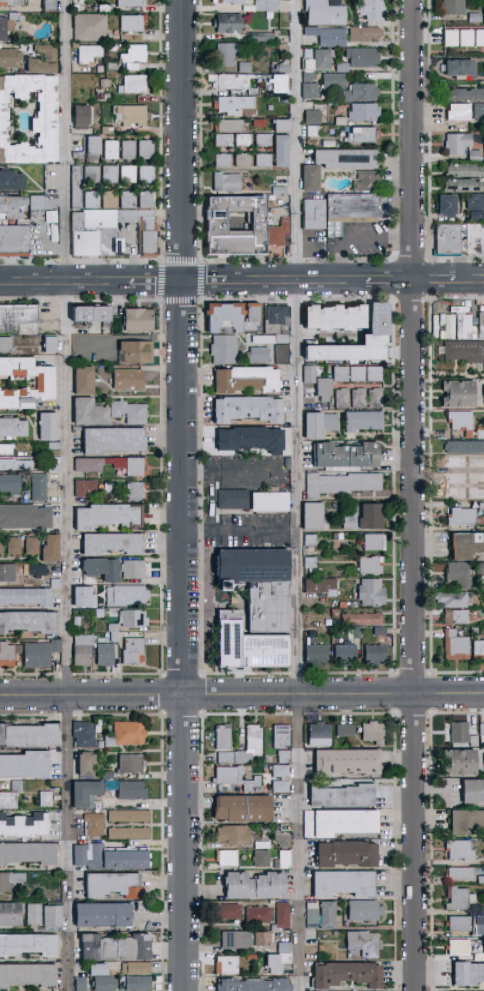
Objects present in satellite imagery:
building: (229, 1)
building: (12, 3)
building: (133, 3)
building: (265, 5)
building: (52, 6)
building: (451, 6)
building: (106, 9)
building: (371, 9)
building: (483, 11)
building: (322, 12)
building: (18, 17)
building: (224, 22)
building: (135, 24)
building: (92, 28)
building: (6, 29)
building: (362, 33)
building: (260, 36)
building: (330, 36)
building: (462, 36)
building: (113, 48)
building: (223, 53)
building: (136, 54)
building: (90, 55)
building: (361, 55)
building: (316, 58)
building: (11, 59)
building: (35, 61)
building: (456, 66)
building: (114, 67)
building: (136, 67)
building: (307, 76)
building: (228, 80)
building: (275, 82)
building: (107, 84)
building: (362, 85)
building: (135, 86)
building: (308, 89)
building: (464, 93)
building: (230, 103)
building: (362, 110)
building: (478, 110)
building: (457, 111)
building: (135, 116)
building: (310, 116)
building: (84, 119)
building: (228, 124)
building: (278, 124)
building: (46, 126)
building: (109, 131)
building: (361, 133)
building: (260, 138)
building: (220, 139)
building: (240, 139)
building: (456, 142)
building: (96, 147)
building: (278, 149)
building: (113, 151)
building: (130, 151)
building: (148, 151)
building: (473, 153)
building: (80, 156)
building: (343, 157)
building: (260, 158)
building: (220, 159)
building: (240, 159)
building: (461, 169)
building: (130, 175)
building: (94, 176)
building: (112, 176)
building: (149, 176)
building: (307, 176)
building: (364, 179)
building: (224, 181)
building: (12, 183)
building: (459, 184)
building: (79, 188)
building: (149, 200)
building: (112, 201)
building: (130, 201)
building: (94, 202)
building: (53, 203)
building: (39, 204)
building: (443, 204)
building: (475, 205)
building: (13, 207)
building: (356, 209)
building: (40, 216)
building: (314, 216)
building: (53, 218)
building: (2, 224)
building: (277, 232)
building: (56, 233)
building: (114, 234)
building: (238, 235)
road: (355, 239)
building: (16, 241)
parking lot: (357, 241)
building: (476, 243)
building: (450, 244)
parking lot: (314, 246)
road: (296, 281)
road: (389, 281)
road: (434, 281)
road: (470, 281)
road: (157, 282)
road: (205, 282)
road: (65, 283)
building: (457, 309)
building: (93, 314)
building: (336, 317)
building: (233, 318)
building: (480, 318)
building: (277, 319)
building: (19, 320)
building: (140, 320)
building: (433, 325)
building: (446, 325)
building: (462, 325)
building: (481, 326)
building: (380, 329)
building: (275, 339)
building: (46, 343)
building: (6, 345)
building: (52, 345)
road: (70, 348)
road: (295, 348)
building: (225, 350)
building: (137, 353)
building: (465, 353)
building: (283, 355)
building: (259, 356)
building: (342, 374)
building: (359, 374)
building: (376, 374)
building: (311, 375)
building: (130, 380)
building: (248, 380)
building: (86, 381)
building: (45, 384)
building: (326, 389)
building: (460, 394)
building: (483, 396)
building: (344, 399)
building: (368, 399)
building: (249, 409)
building: (131, 412)
building: (91, 413)
building: (365, 421)
building: (462, 424)
building: (321, 426)
building: (49, 427)
building: (13, 428)
building: (481, 435)
building: (115, 440)
building: (252, 440)
building: (55, 446)
building: (465, 448)
building: (7, 450)
building: (349, 456)
building: (477, 462)
building: (459, 463)
building: (16, 465)
building: (115, 465)
building: (55, 469)
road: (235, 471)
building: (476, 475)
building: (342, 484)
building: (12, 485)
building: (41, 487)
building: (87, 489)
building: (110, 489)
building: (462, 490)
building: (136, 493)
building: (483, 493)
road: (184, 495)
road: (413, 495)
building: (234, 500)
building: (271, 501)
building: (354, 507)
building: (482, 507)
building: (111, 517)
building: (314, 517)
building: (25, 518)
building: (372, 518)
building: (463, 518)
building: (351, 522)
road: (240, 529)
building: (312, 541)
building: (376, 543)
building: (114, 544)
building: (2, 546)
building: (34, 546)
building: (467, 546)
building: (15, 547)
building: (53, 550)
building: (312, 563)
building: (372, 566)
building: (104, 569)
building: (481, 569)
building: (135, 570)
building: (37, 571)
building: (317, 572)
building: (10, 575)
building: (461, 576)
building: (57, 580)
building: (45, 584)
building: (260, 586)
building: (323, 587)
building: (373, 594)
building: (84, 597)
building: (127, 597)
building: (27, 598)
building: (455, 600)
building: (458, 617)
building: (135, 619)
building: (363, 620)
building: (29, 623)
building: (314, 632)
building: (358, 632)
building: (382, 632)
building: (115, 633)
building: (249, 646)
building: (457, 647)
building: (84, 651)
building: (479, 651)
building: (135, 652)
building: (9, 654)
building: (42, 654)
building: (347, 654)
building: (107, 655)
building: (318, 655)
building: (378, 655)
road: (242, 696)
building: (342, 729)
building: (127, 732)
building: (371, 732)
building: (81, 733)
building: (317, 733)
building: (26, 734)
building: (279, 735)
building: (221, 736)
building: (251, 737)
building: (282, 755)
building: (344, 761)
building: (457, 762)
building: (82, 763)
building: (129, 763)
building: (23, 764)
building: (483, 765)
building: (278, 769)
building: (226, 774)
building: (251, 784)
building: (14, 785)
building: (278, 786)
building: (129, 789)
building: (471, 790)
building: (82, 793)
building: (338, 795)
building: (42, 798)
building: (7, 799)
building: (238, 808)
building: (126, 815)
building: (465, 821)
building: (335, 822)
building: (23, 824)
building: (93, 824)
building: (126, 832)
building: (230, 833)
road: (299, 843)
road: (70, 844)
building: (457, 849)
building: (26, 853)
building: (343, 853)
building: (225, 857)
building: (259, 857)
building: (105, 858)
building: (458, 873)
building: (479, 879)
building: (9, 880)
building: (340, 883)
building: (110, 884)
building: (251, 885)
building: (459, 898)
building: (227, 910)
building: (361, 910)
building: (257, 913)
building: (8, 914)
building: (41, 914)
building: (99, 914)
building: (281, 914)
building: (326, 914)
building: (309, 915)
building: (457, 923)
building: (243, 938)
building: (27, 944)
building: (361, 944)
building: (456, 946)
building: (111, 947)
building: (271, 963)
building: (225, 964)
building: (133, 967)
building: (94, 969)
building: (466, 973)
building: (26, 974)
building: (343, 974)
building: (78, 983)
building: (101, 983)
building: (135, 983)
building: (250, 984)

